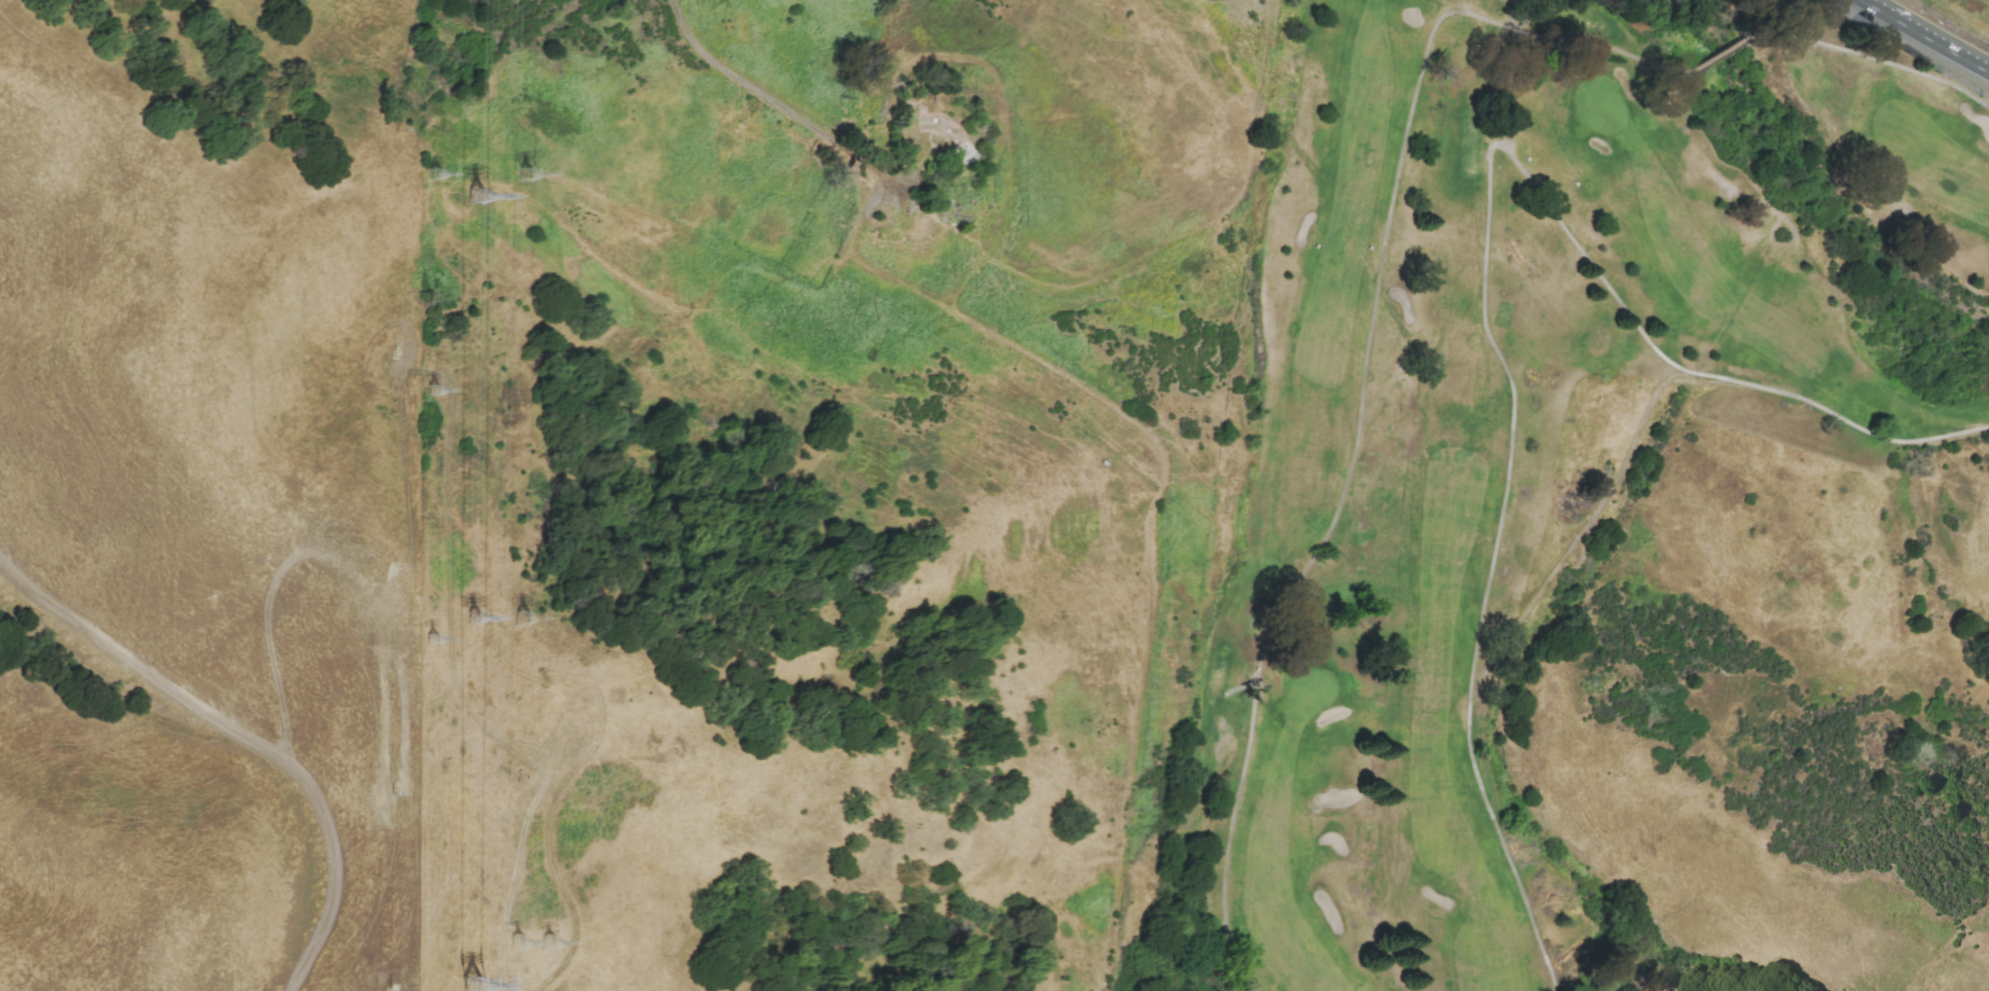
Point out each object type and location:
road: (1923, 37)
road: (1879, 60)
road: (1007, 90)
building: (940, 132)
power tower: (528, 176)
power tower: (440, 178)
road: (1395, 191)
power tower: (482, 200)
road: (1214, 227)
road: (1484, 272)
power tower: (439, 392)
road: (1097, 393)
park: (1496, 427)
crop: (209, 495)
power tower: (530, 621)
power tower: (479, 622)
power tower: (435, 642)
road: (244, 737)
road: (549, 842)
power tower: (516, 943)
power tower: (548, 943)
power tower: (471, 986)

